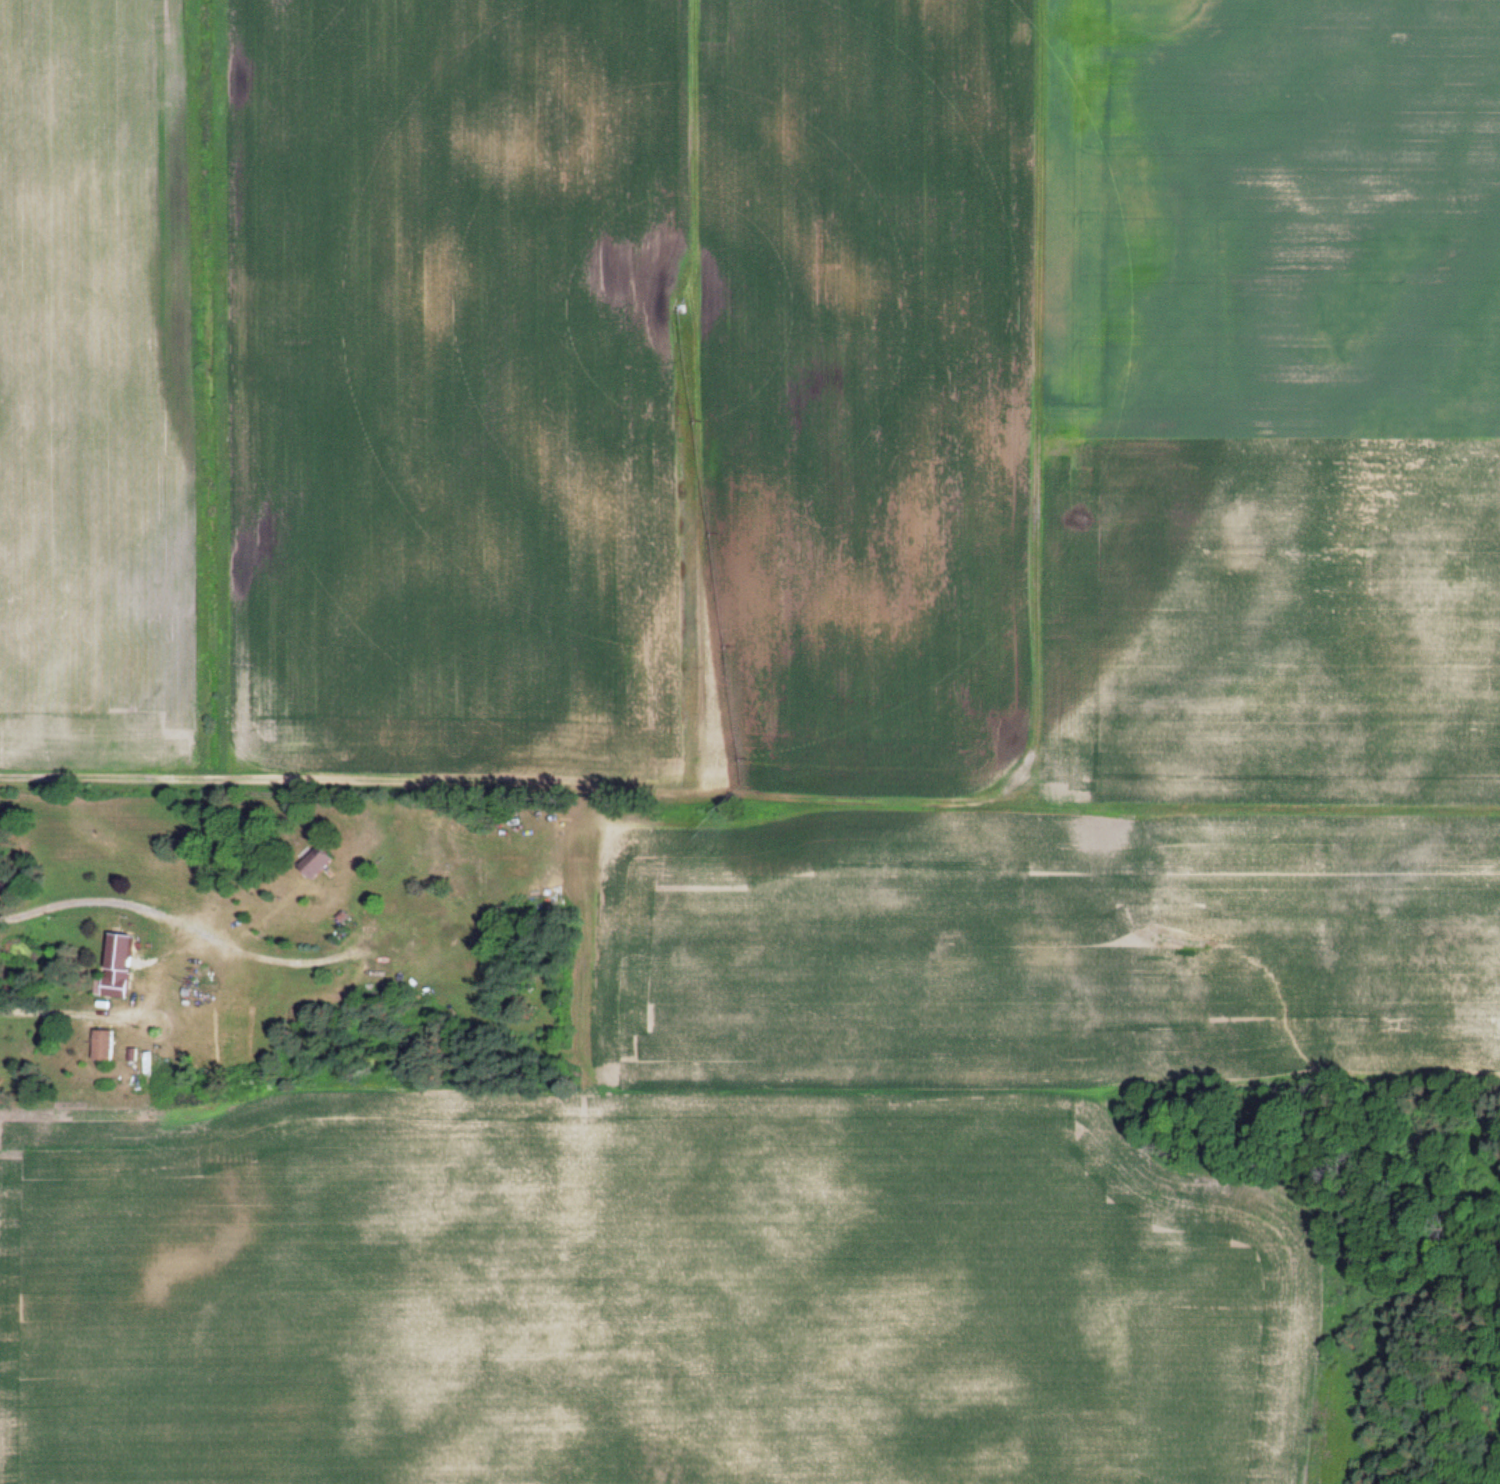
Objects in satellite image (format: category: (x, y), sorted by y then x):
building: (325, 861)
building: (116, 987)
building: (109, 1045)

